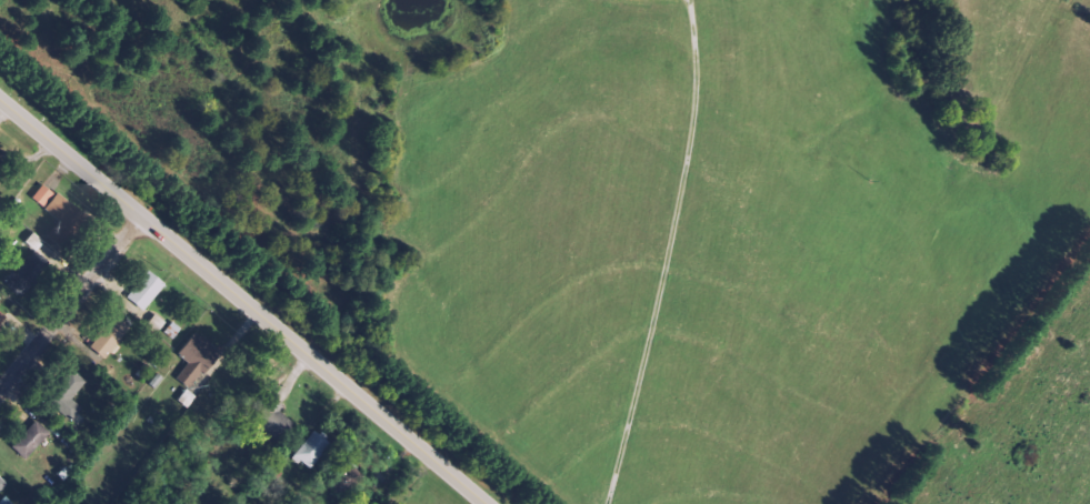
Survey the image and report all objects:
building: (44, 195)
building: (66, 221)
building: (33, 268)
building: (148, 291)
road: (247, 298)
road: (74, 310)
building: (2, 319)
building: (158, 322)
building: (112, 337)
building: (198, 360)
building: (70, 397)
building: (32, 440)
building: (313, 450)
building: (2, 485)

